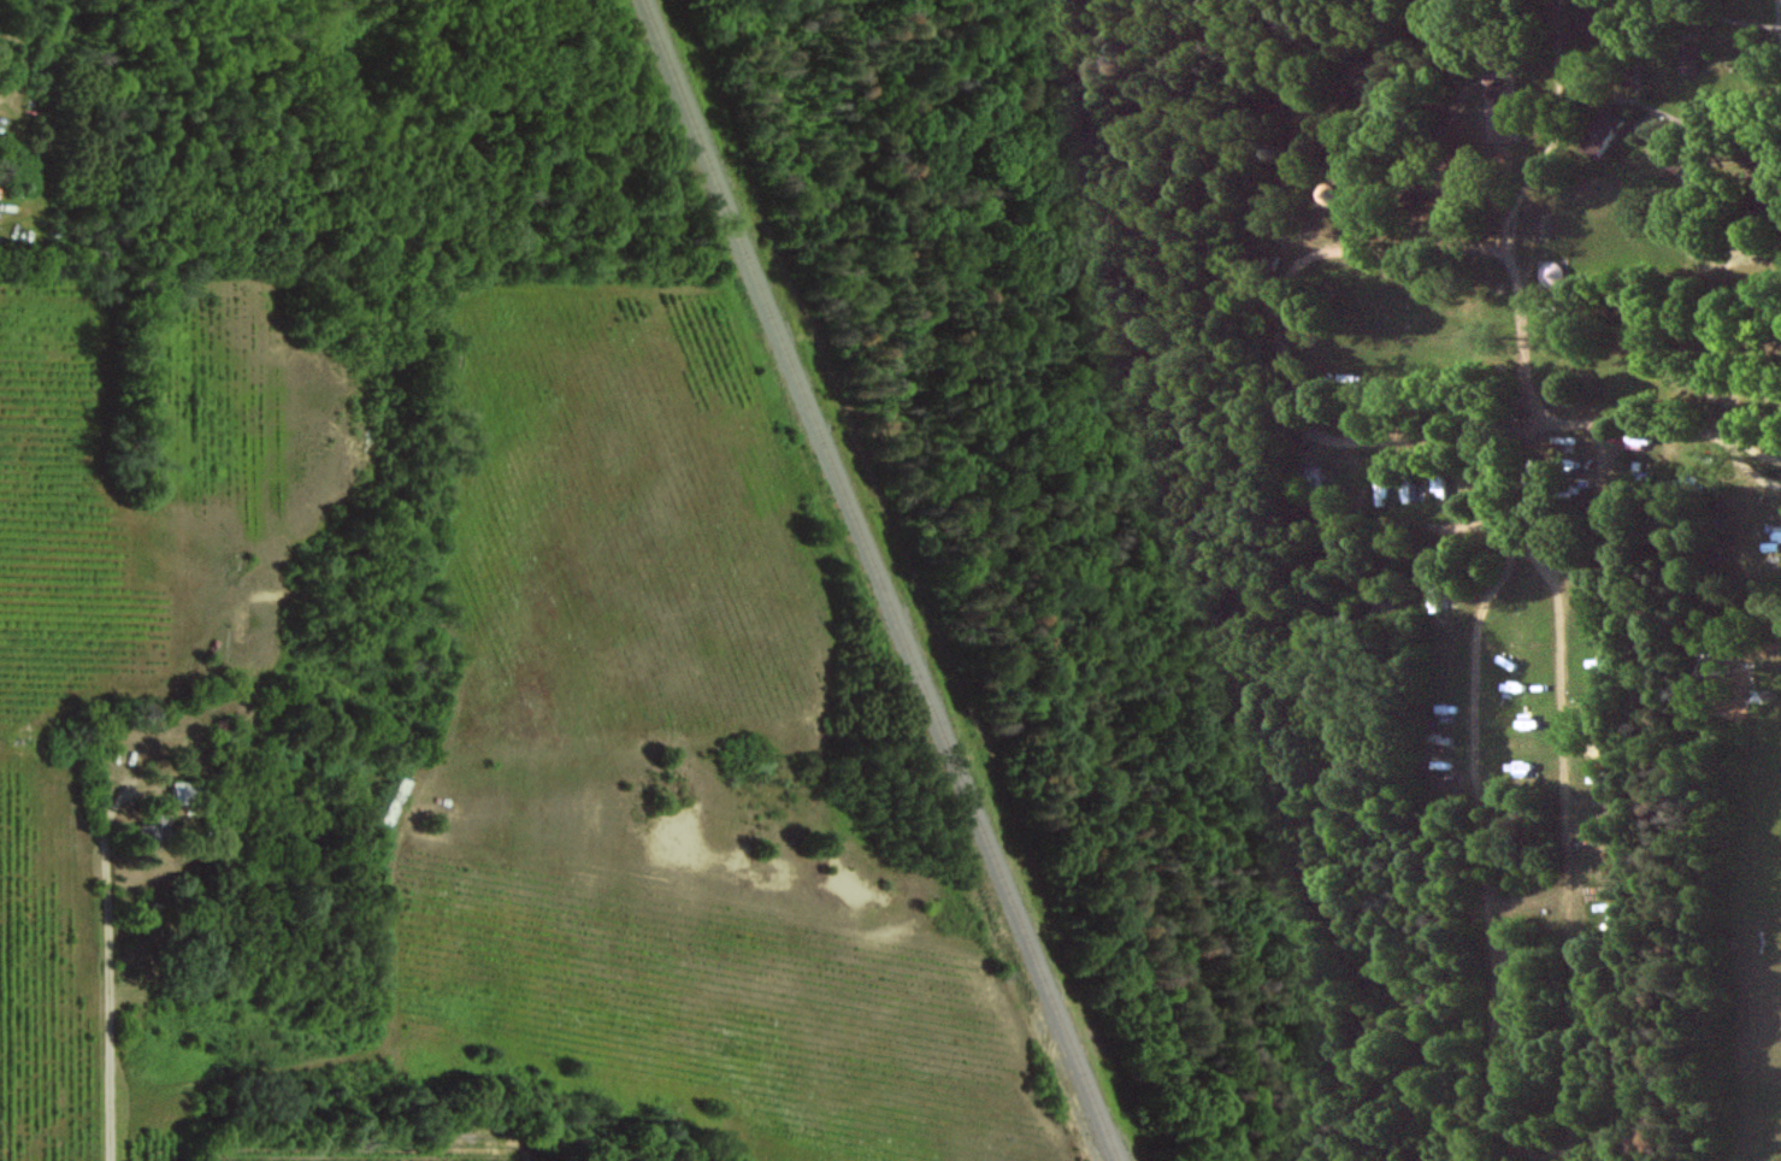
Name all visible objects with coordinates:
building: (1587, 22)
building: (1688, 59)
building: (1602, 134)
building: (1411, 193)
road: (1295, 264)
road: (1656, 431)
railway: (879, 580)
road: (110, 967)

